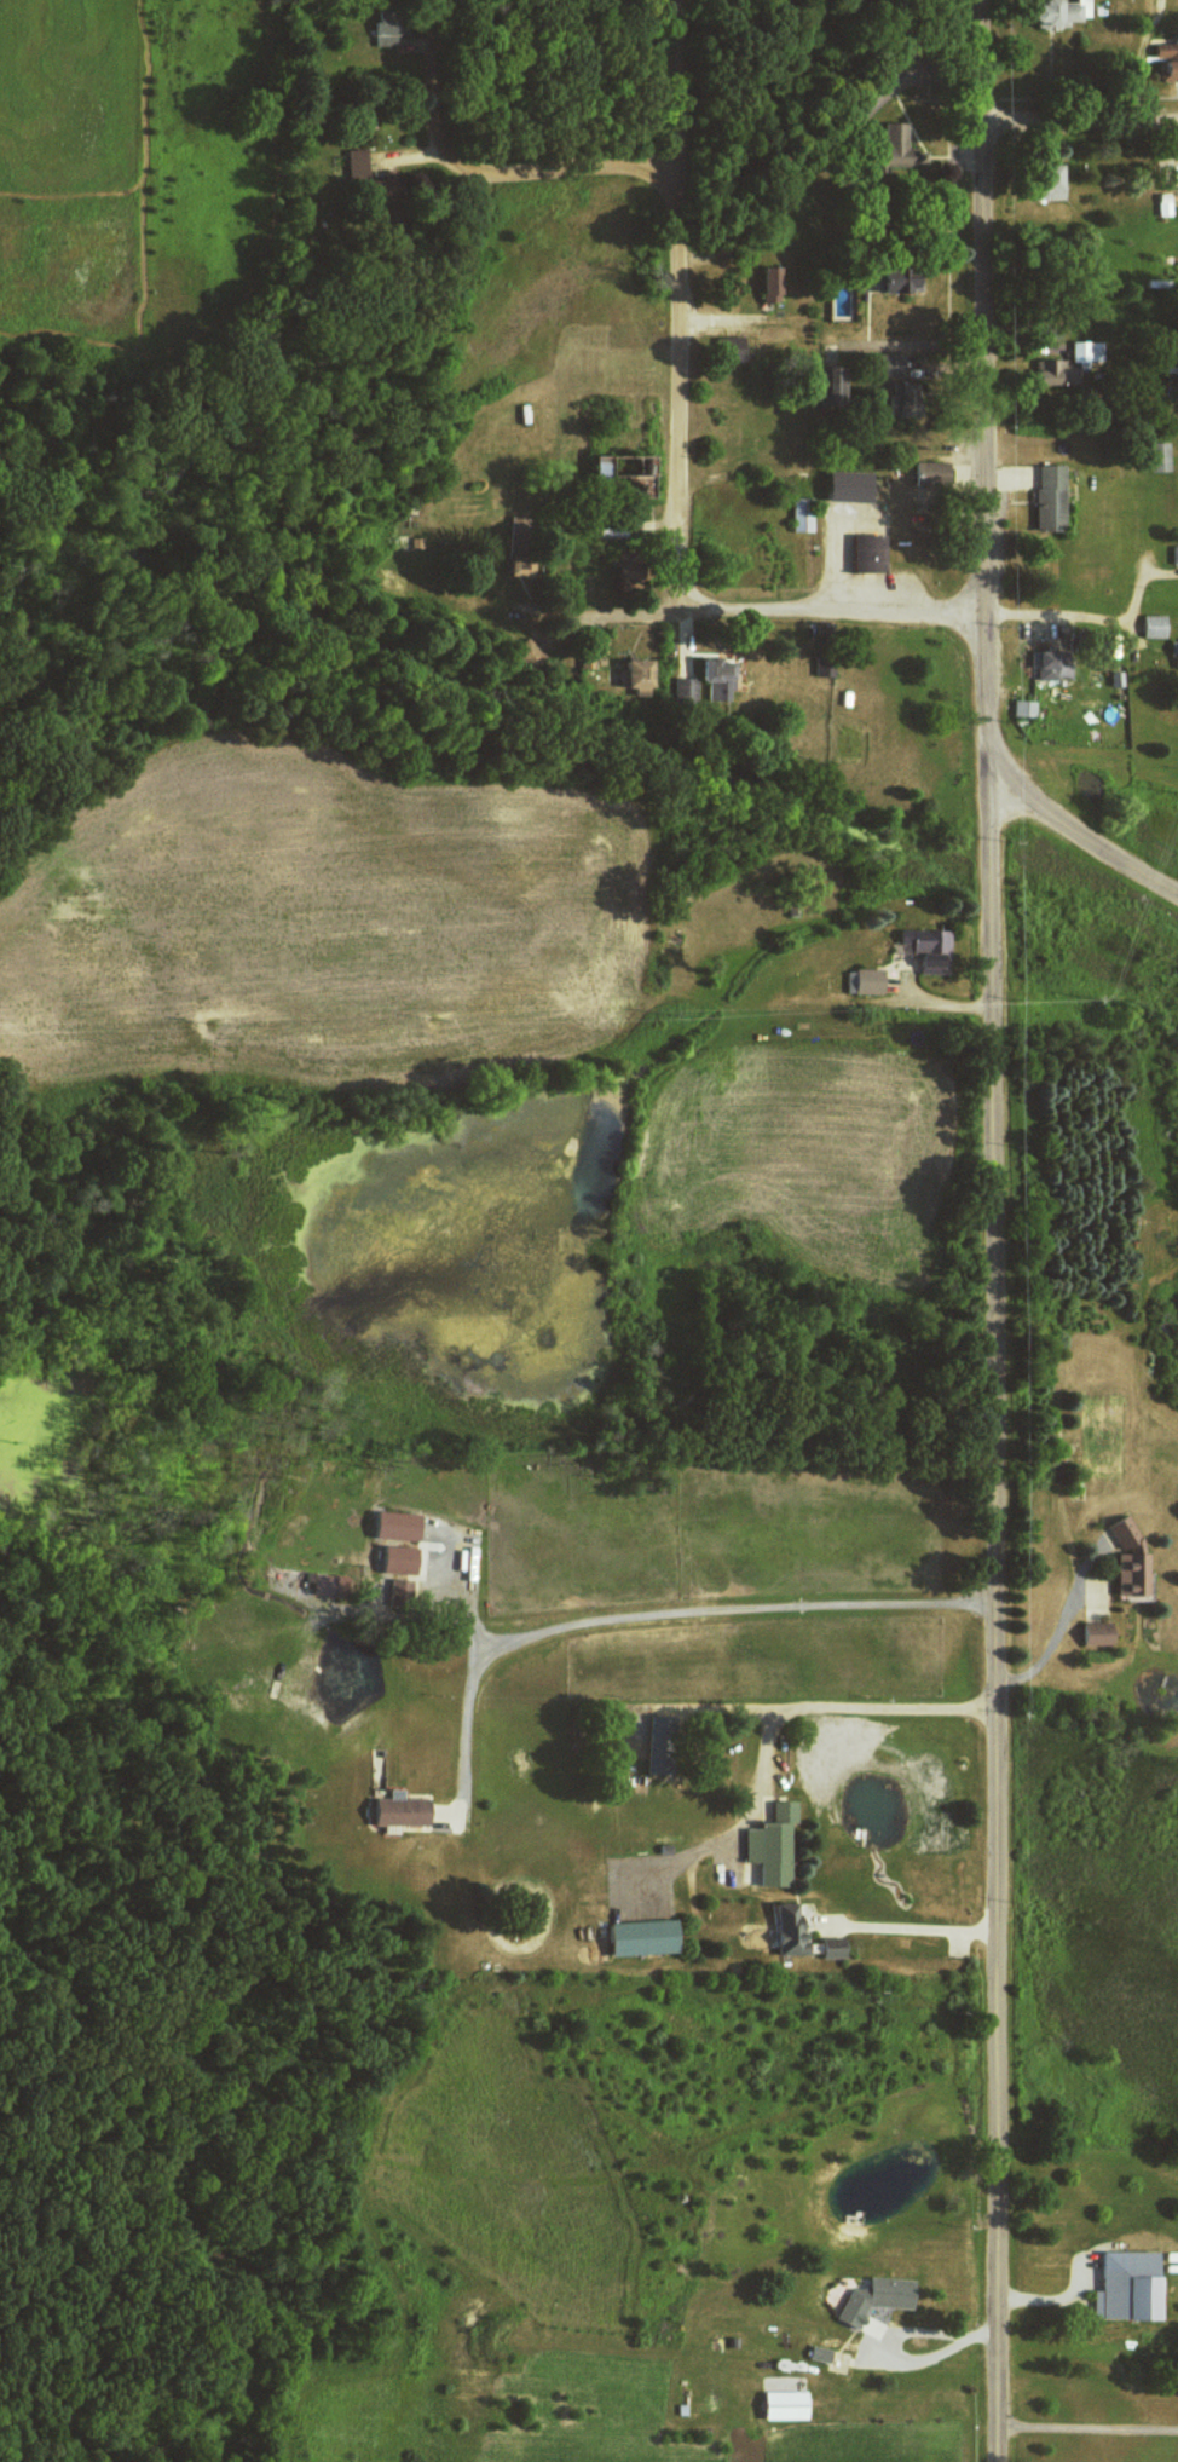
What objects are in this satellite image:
building: (1053, 13)
building: (382, 35)
building: (1165, 62)
road: (678, 83)
road: (1080, 106)
building: (888, 149)
building: (362, 162)
road: (479, 173)
building: (1041, 184)
building: (893, 283)
building: (766, 286)
road: (984, 307)
building: (724, 350)
building: (1070, 363)
building: (884, 365)
building: (826, 385)
road: (678, 387)
building: (894, 400)
building: (1151, 459)
building: (841, 488)
building: (622, 495)
building: (1046, 498)
building: (798, 515)
building: (865, 555)
building: (1174, 555)
building: (527, 564)
road: (755, 606)
road: (903, 611)
road: (643, 615)
road: (1059, 615)
road: (572, 616)
building: (1151, 627)
building: (1174, 661)
building: (642, 674)
building: (1023, 709)
road: (1026, 788)
road: (1009, 792)
building: (923, 950)
building: (861, 981)
building: (404, 1524)
building: (1124, 1557)
building: (406, 1559)
building: (329, 1582)
road: (995, 1597)
building: (1093, 1636)
building: (663, 1755)
building: (404, 1809)
building: (776, 1843)
building: (648, 1936)
building: (801, 1936)
building: (1132, 2284)
building: (879, 2296)
building: (790, 2404)

